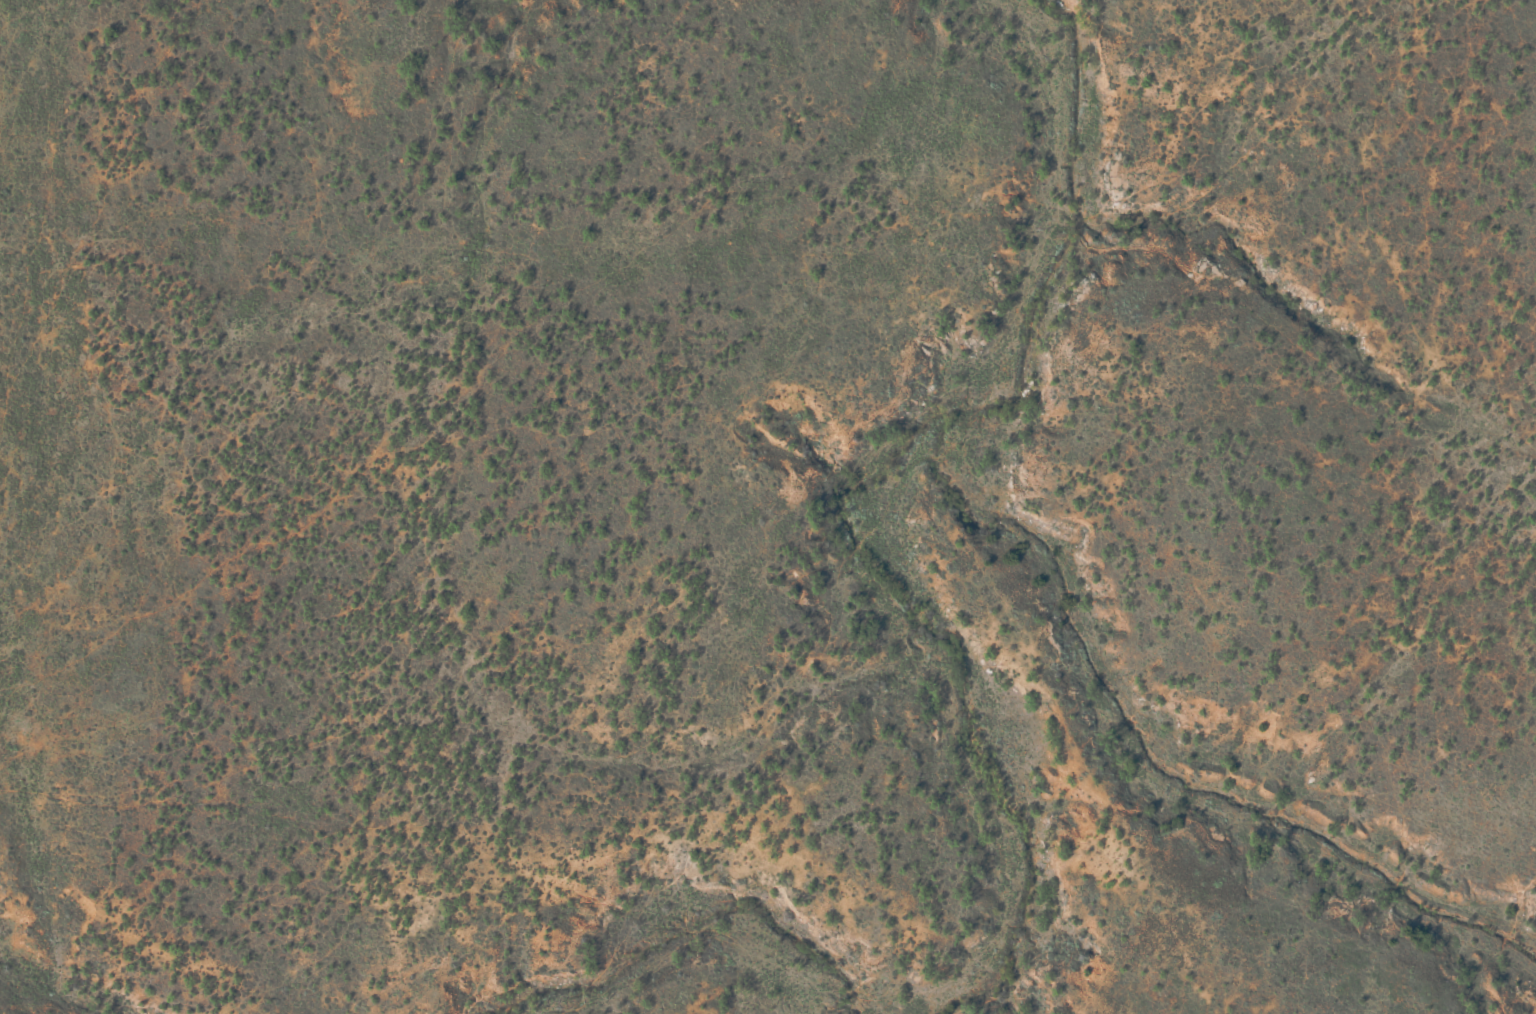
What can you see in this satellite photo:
road: (1, 498)

